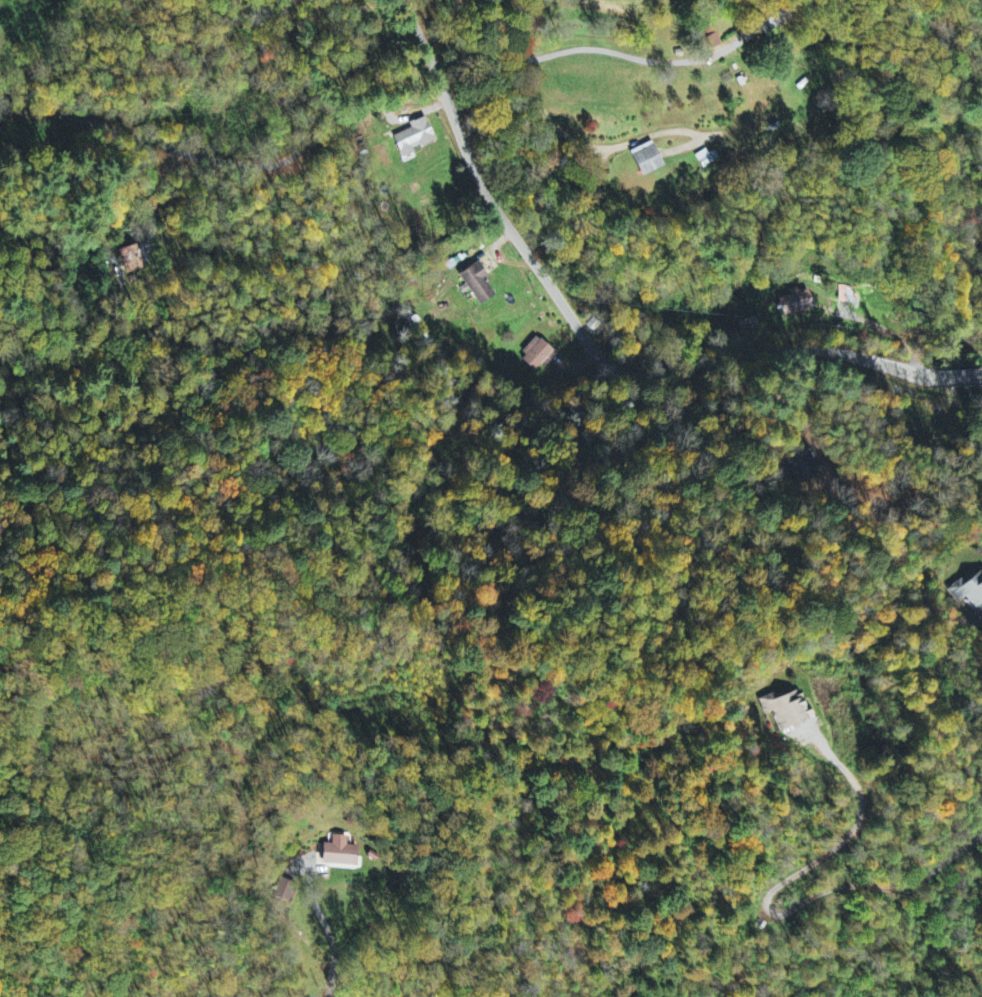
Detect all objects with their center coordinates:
road: (421, 47)
building: (416, 138)
building: (651, 159)
road: (229, 163)
building: (479, 285)
building: (796, 304)
road: (10, 315)
road: (621, 379)
road: (658, 551)
building: (790, 710)
road: (331, 945)

